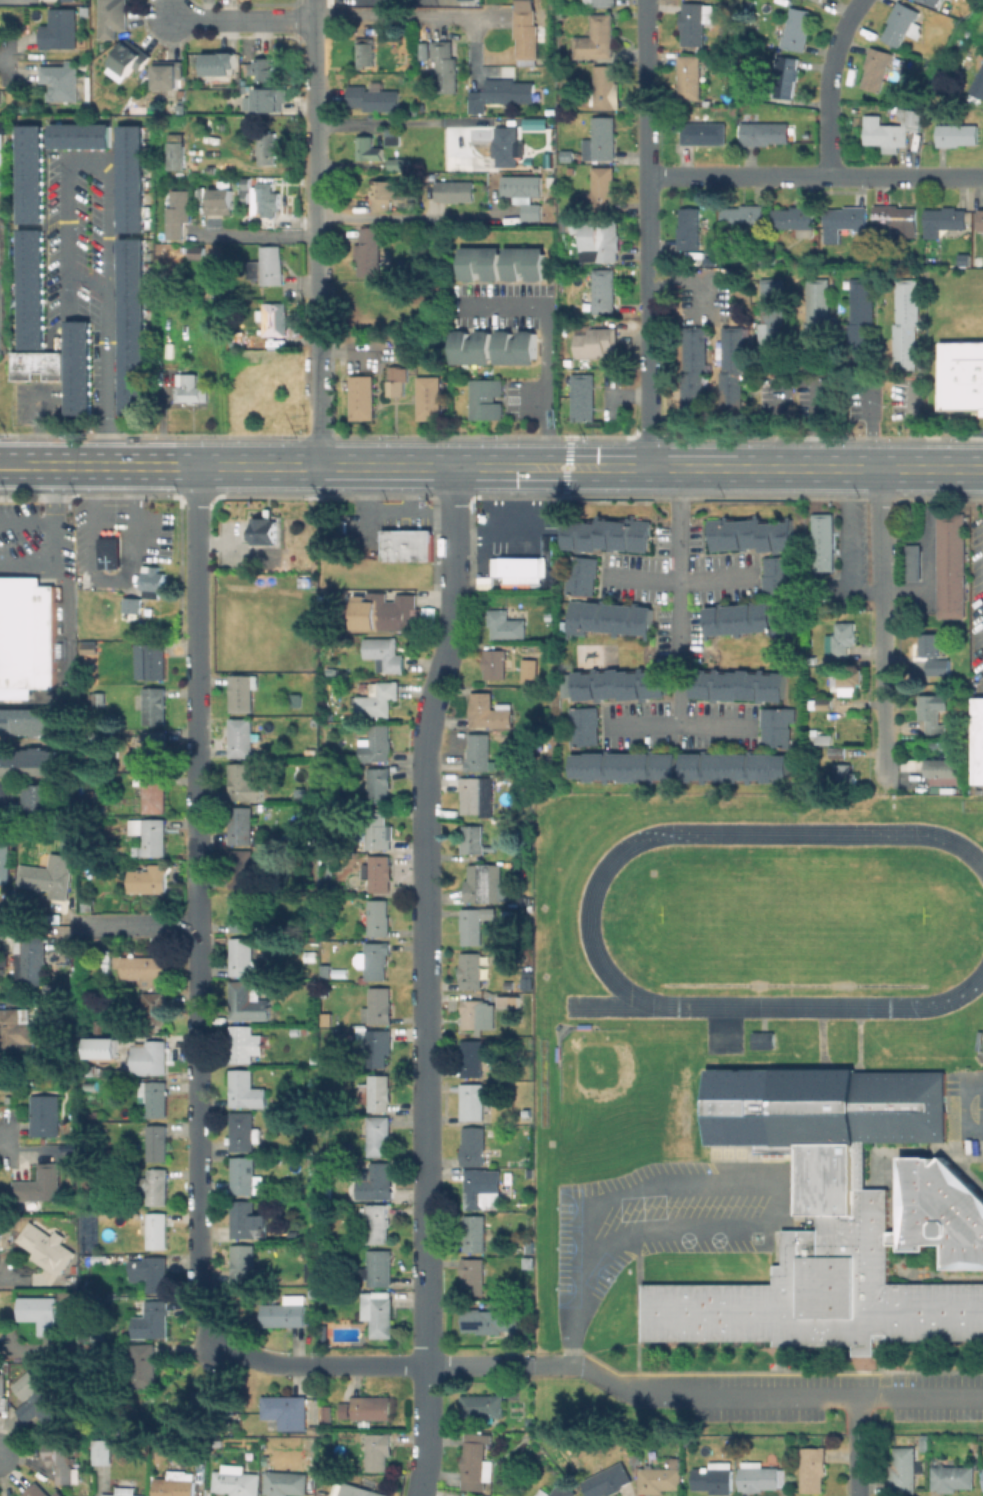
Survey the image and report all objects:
building: (818, 0)
building: (930, 1)
building: (599, 2)
building: (522, 4)
road: (390, 13)
building: (114, 18)
road: (240, 18)
building: (692, 23)
building: (902, 23)
building: (796, 28)
building: (61, 30)
building: (967, 31)
building: (390, 33)
building: (526, 36)
building: (595, 37)
building: (959, 41)
building: (425, 49)
building: (366, 51)
road: (4, 59)
building: (129, 61)
building: (220, 64)
building: (444, 65)
building: (876, 67)
building: (263, 69)
building: (169, 75)
building: (785, 75)
building: (690, 77)
road: (830, 83)
building: (978, 83)
building: (64, 84)
building: (605, 87)
building: (751, 89)
building: (510, 90)
building: (373, 97)
building: (269, 99)
building: (910, 115)
road: (386, 122)
building: (535, 122)
building: (882, 129)
building: (703, 132)
building: (764, 132)
building: (956, 133)
building: (81, 134)
building: (392, 136)
building: (600, 139)
building: (505, 144)
building: (267, 147)
building: (176, 149)
building: (368, 149)
building: (1, 152)
road: (77, 159)
building: (398, 163)
road: (315, 167)
building: (212, 169)
building: (31, 172)
road: (814, 175)
building: (132, 176)
building: (245, 181)
building: (388, 189)
building: (600, 189)
building: (455, 192)
building: (526, 194)
building: (246, 196)
building: (220, 199)
building: (267, 200)
building: (177, 212)
road: (404, 215)
building: (744, 216)
building: (793, 217)
building: (846, 217)
building: (895, 219)
building: (980, 219)
building: (943, 220)
building: (689, 228)
building: (159, 233)
road: (646, 233)
road: (265, 235)
building: (602, 243)
building: (977, 247)
building: (198, 253)
building: (370, 256)
building: (480, 262)
building: (523, 262)
building: (267, 266)
road: (685, 284)
building: (32, 287)
building: (603, 290)
building: (274, 319)
building: (771, 320)
building: (815, 321)
building: (859, 321)
building: (904, 324)
building: (132, 326)
building: (596, 342)
building: (470, 346)
building: (513, 347)
building: (37, 363)
building: (79, 366)
building: (692, 370)
building: (731, 370)
building: (961, 375)
road: (106, 379)
building: (395, 380)
road: (548, 385)
building: (190, 388)
building: (362, 396)
building: (582, 396)
building: (426, 397)
building: (483, 399)
road: (319, 401)
road: (773, 422)
road: (875, 423)
road: (922, 423)
road: (815, 424)
road: (569, 454)
road: (17, 466)
road: (292, 466)
road: (568, 466)
road: (785, 469)
road: (569, 479)
road: (841, 483)
road: (30, 523)
road: (453, 529)
building: (265, 530)
building: (748, 534)
building: (606, 535)
building: (823, 541)
road: (842, 542)
building: (408, 545)
road: (60, 548)
building: (107, 553)
building: (913, 562)
building: (522, 565)
building: (951, 565)
building: (775, 574)
building: (580, 575)
building: (487, 581)
building: (150, 582)
road: (683, 582)
road: (864, 592)
road: (682, 596)
building: (130, 604)
building: (388, 611)
building: (607, 618)
building: (746, 619)
road: (882, 619)
building: (506, 625)
building: (27, 633)
building: (843, 638)
building: (929, 644)
building: (87, 648)
building: (385, 653)
building: (827, 657)
building: (153, 661)
building: (495, 664)
building: (938, 666)
building: (530, 670)
building: (847, 681)
building: (617, 684)
building: (738, 685)
building: (242, 693)
building: (99, 698)
building: (378, 699)
building: (296, 700)
building: (821, 702)
building: (152, 705)
building: (489, 711)
building: (932, 713)
building: (29, 721)
building: (581, 725)
road: (683, 725)
building: (774, 726)
building: (241, 738)
building: (824, 739)
building: (979, 740)
building: (375, 744)
building: (940, 744)
building: (310, 750)
building: (151, 751)
building: (479, 752)
building: (837, 752)
building: (30, 763)
building: (622, 766)
building: (944, 766)
building: (733, 767)
building: (844, 774)
building: (244, 784)
building: (379, 785)
building: (34, 791)
building: (300, 792)
building: (155, 794)
building: (477, 795)
building: (91, 796)
building: (241, 825)
building: (377, 831)
track: (707, 833)
building: (151, 834)
building: (473, 839)
building: (5, 862)
building: (241, 869)
building: (329, 870)
building: (377, 873)
building: (49, 874)
building: (149, 880)
building: (484, 883)
building: (522, 899)
road: (195, 904)
building: (87, 905)
building: (243, 914)
building: (378, 917)
road: (141, 923)
building: (472, 926)
building: (311, 955)
building: (244, 958)
building: (31, 959)
building: (376, 959)
building: (146, 968)
building: (471, 971)
building: (248, 1001)
building: (503, 1002)
track: (825, 1003)
road: (5, 1005)
track: (613, 1005)
building: (378, 1006)
building: (152, 1009)
building: (477, 1014)
building: (50, 1017)
building: (99, 1027)
building: (299, 1031)
building: (14, 1032)
building: (335, 1032)
building: (762, 1040)
road: (425, 1042)
building: (245, 1044)
building: (374, 1045)
building: (100, 1046)
building: (147, 1057)
building: (472, 1058)
building: (314, 1059)
building: (90, 1070)
building: (90, 1085)
building: (244, 1089)
building: (376, 1092)
building: (155, 1097)
building: (475, 1101)
building: (91, 1113)
building: (524, 1113)
building: (45, 1116)
building: (244, 1132)
building: (379, 1135)
road: (4, 1137)
building: (155, 1143)
building: (473, 1146)
building: (262, 1161)
building: (326, 1166)
building: (245, 1176)
building: (376, 1182)
building: (156, 1186)
building: (39, 1187)
building: (482, 1187)
building: (265, 1204)
building: (940, 1210)
building: (823, 1215)
building: (248, 1221)
building: (376, 1222)
parking lot: (658, 1222)
building: (157, 1230)
building: (475, 1233)
building: (47, 1249)
building: (243, 1263)
building: (530, 1263)
building: (380, 1268)
building: (311, 1271)
building: (151, 1272)
building: (473, 1276)
road: (13, 1280)
road: (581, 1285)
building: (313, 1292)
building: (41, 1312)
building: (285, 1312)
building: (378, 1312)
building: (484, 1319)
building: (151, 1320)
building: (97, 1330)
road: (13, 1350)
building: (89, 1352)
building: (142, 1364)
road: (393, 1364)
building: (2, 1383)
building: (25, 1385)
road: (773, 1394)
parking lot: (807, 1395)
building: (215, 1403)
building: (370, 1407)
building: (483, 1407)
building: (45, 1410)
building: (285, 1410)
building: (328, 1415)
road: (858, 1445)
building: (311, 1447)
building: (103, 1451)
building: (378, 1451)
building: (57, 1459)
building: (477, 1463)
building: (813, 1469)
building: (903, 1471)
building: (756, 1477)
building: (951, 1477)
building: (659, 1478)
building: (714, 1478)
building: (981, 1478)
building: (607, 1481)
building: (238, 1483)
building: (286, 1483)
building: (174, 1485)
building: (358, 1490)
building: (36, 1491)
building: (124, 1491)
building: (558, 1491)
building: (58, 1494)

